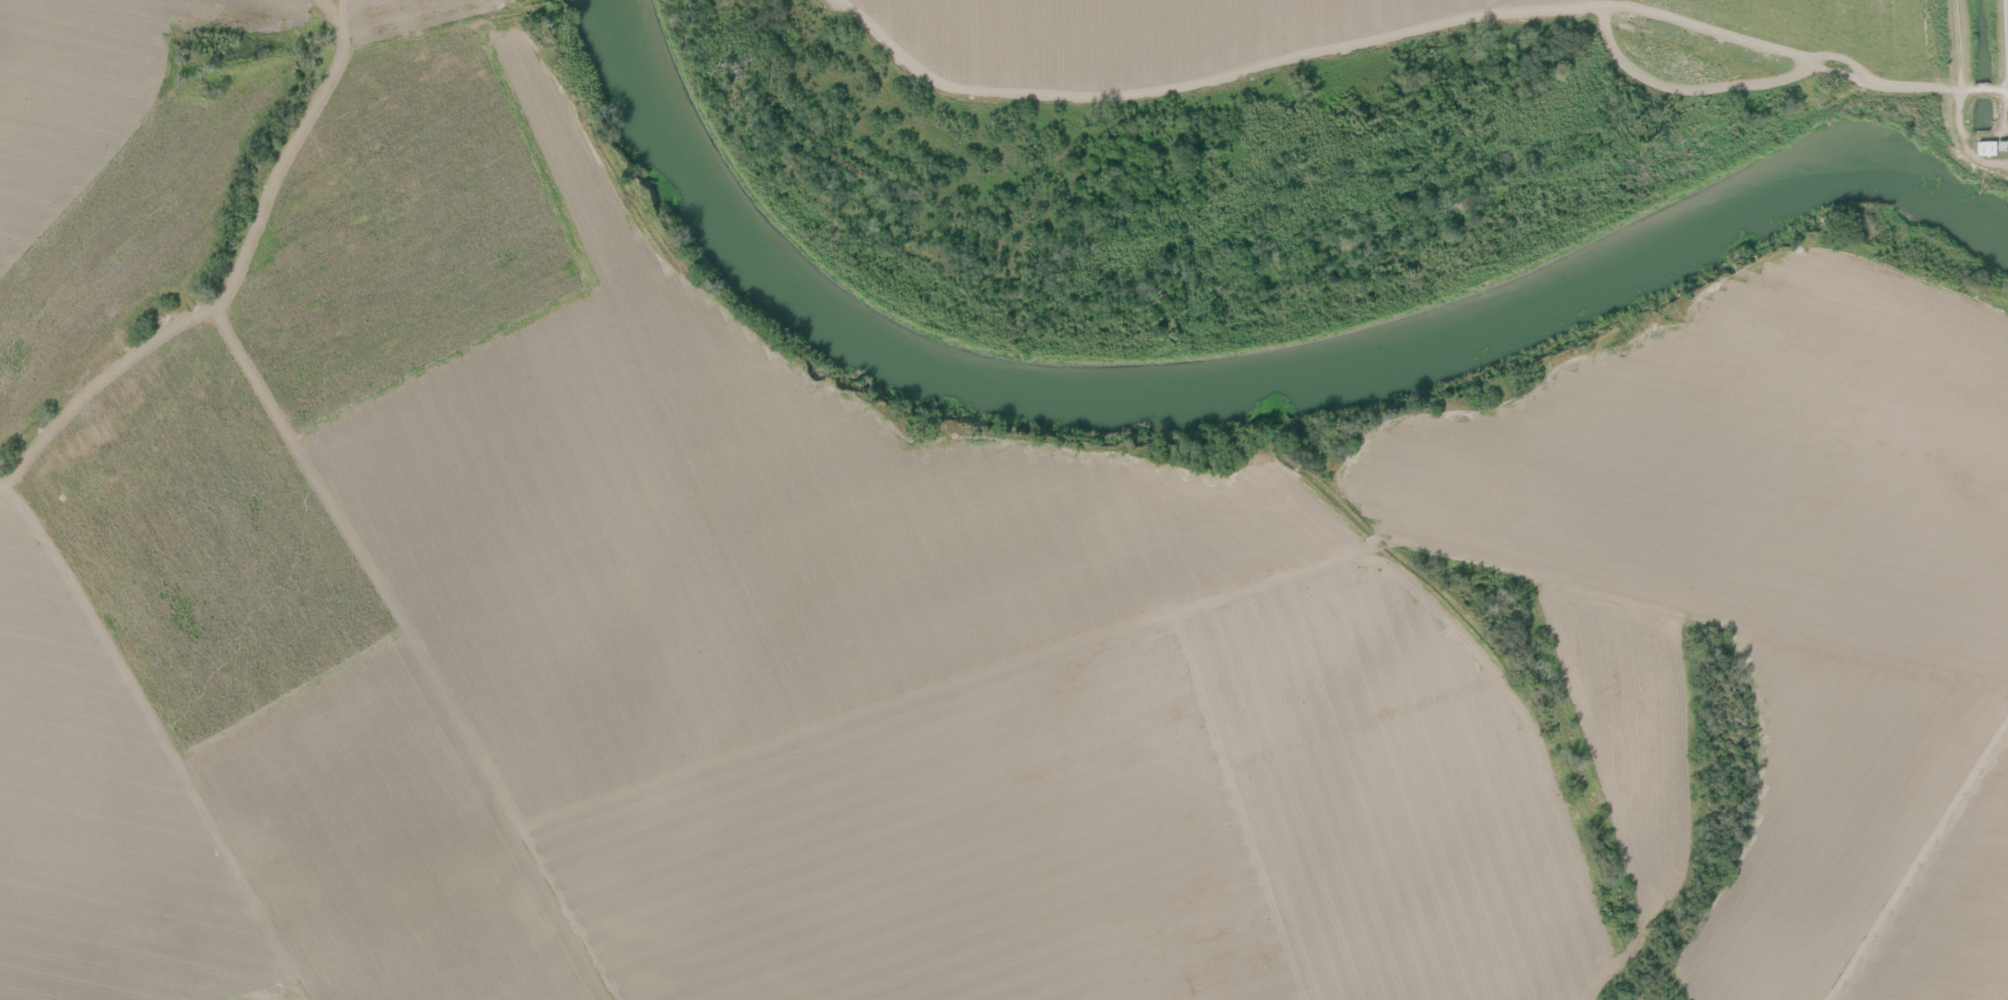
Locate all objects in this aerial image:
road: (2002, 46)
road: (2005, 97)
river: (1249, 370)

